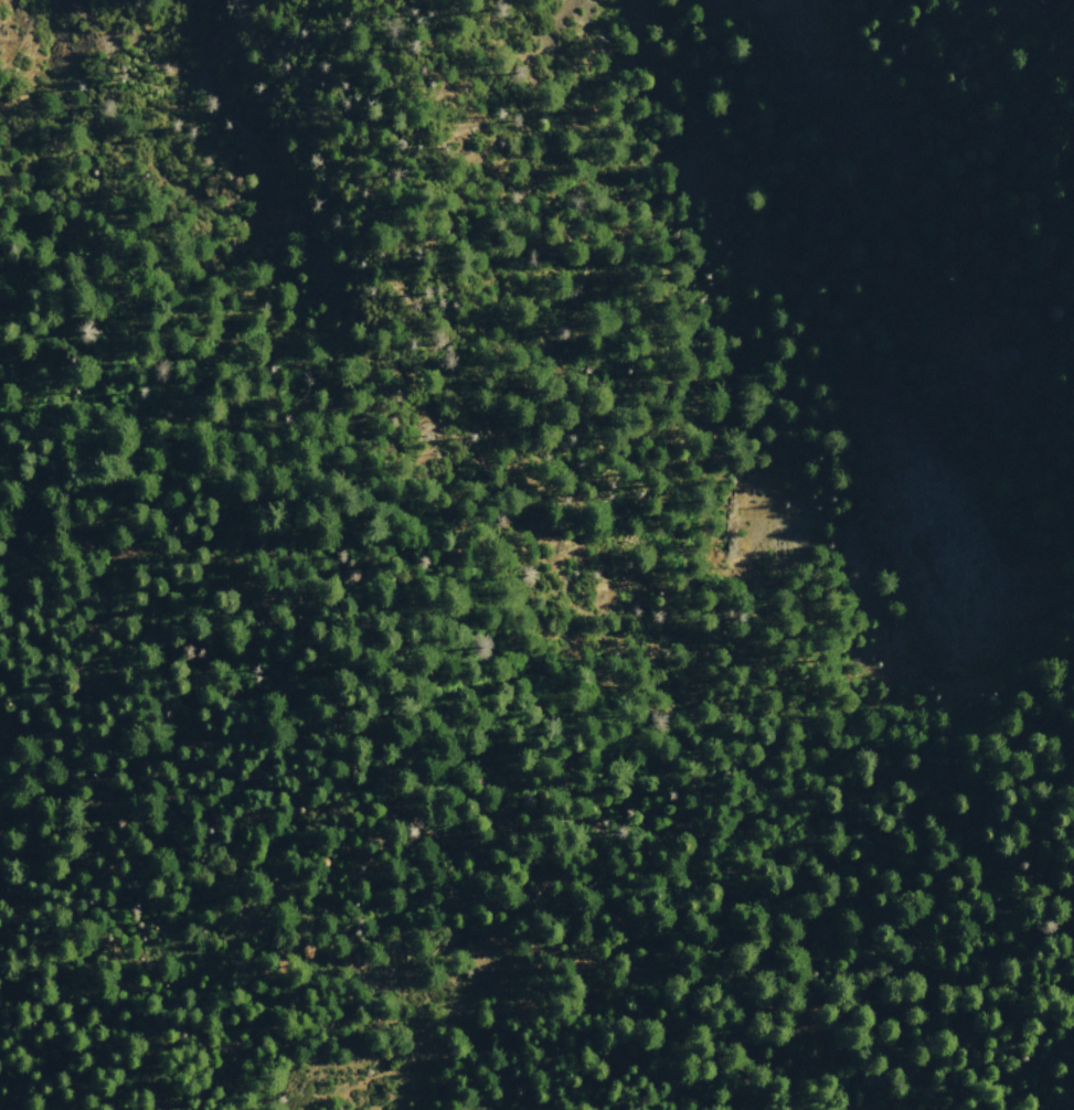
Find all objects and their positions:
road: (519, 943)

